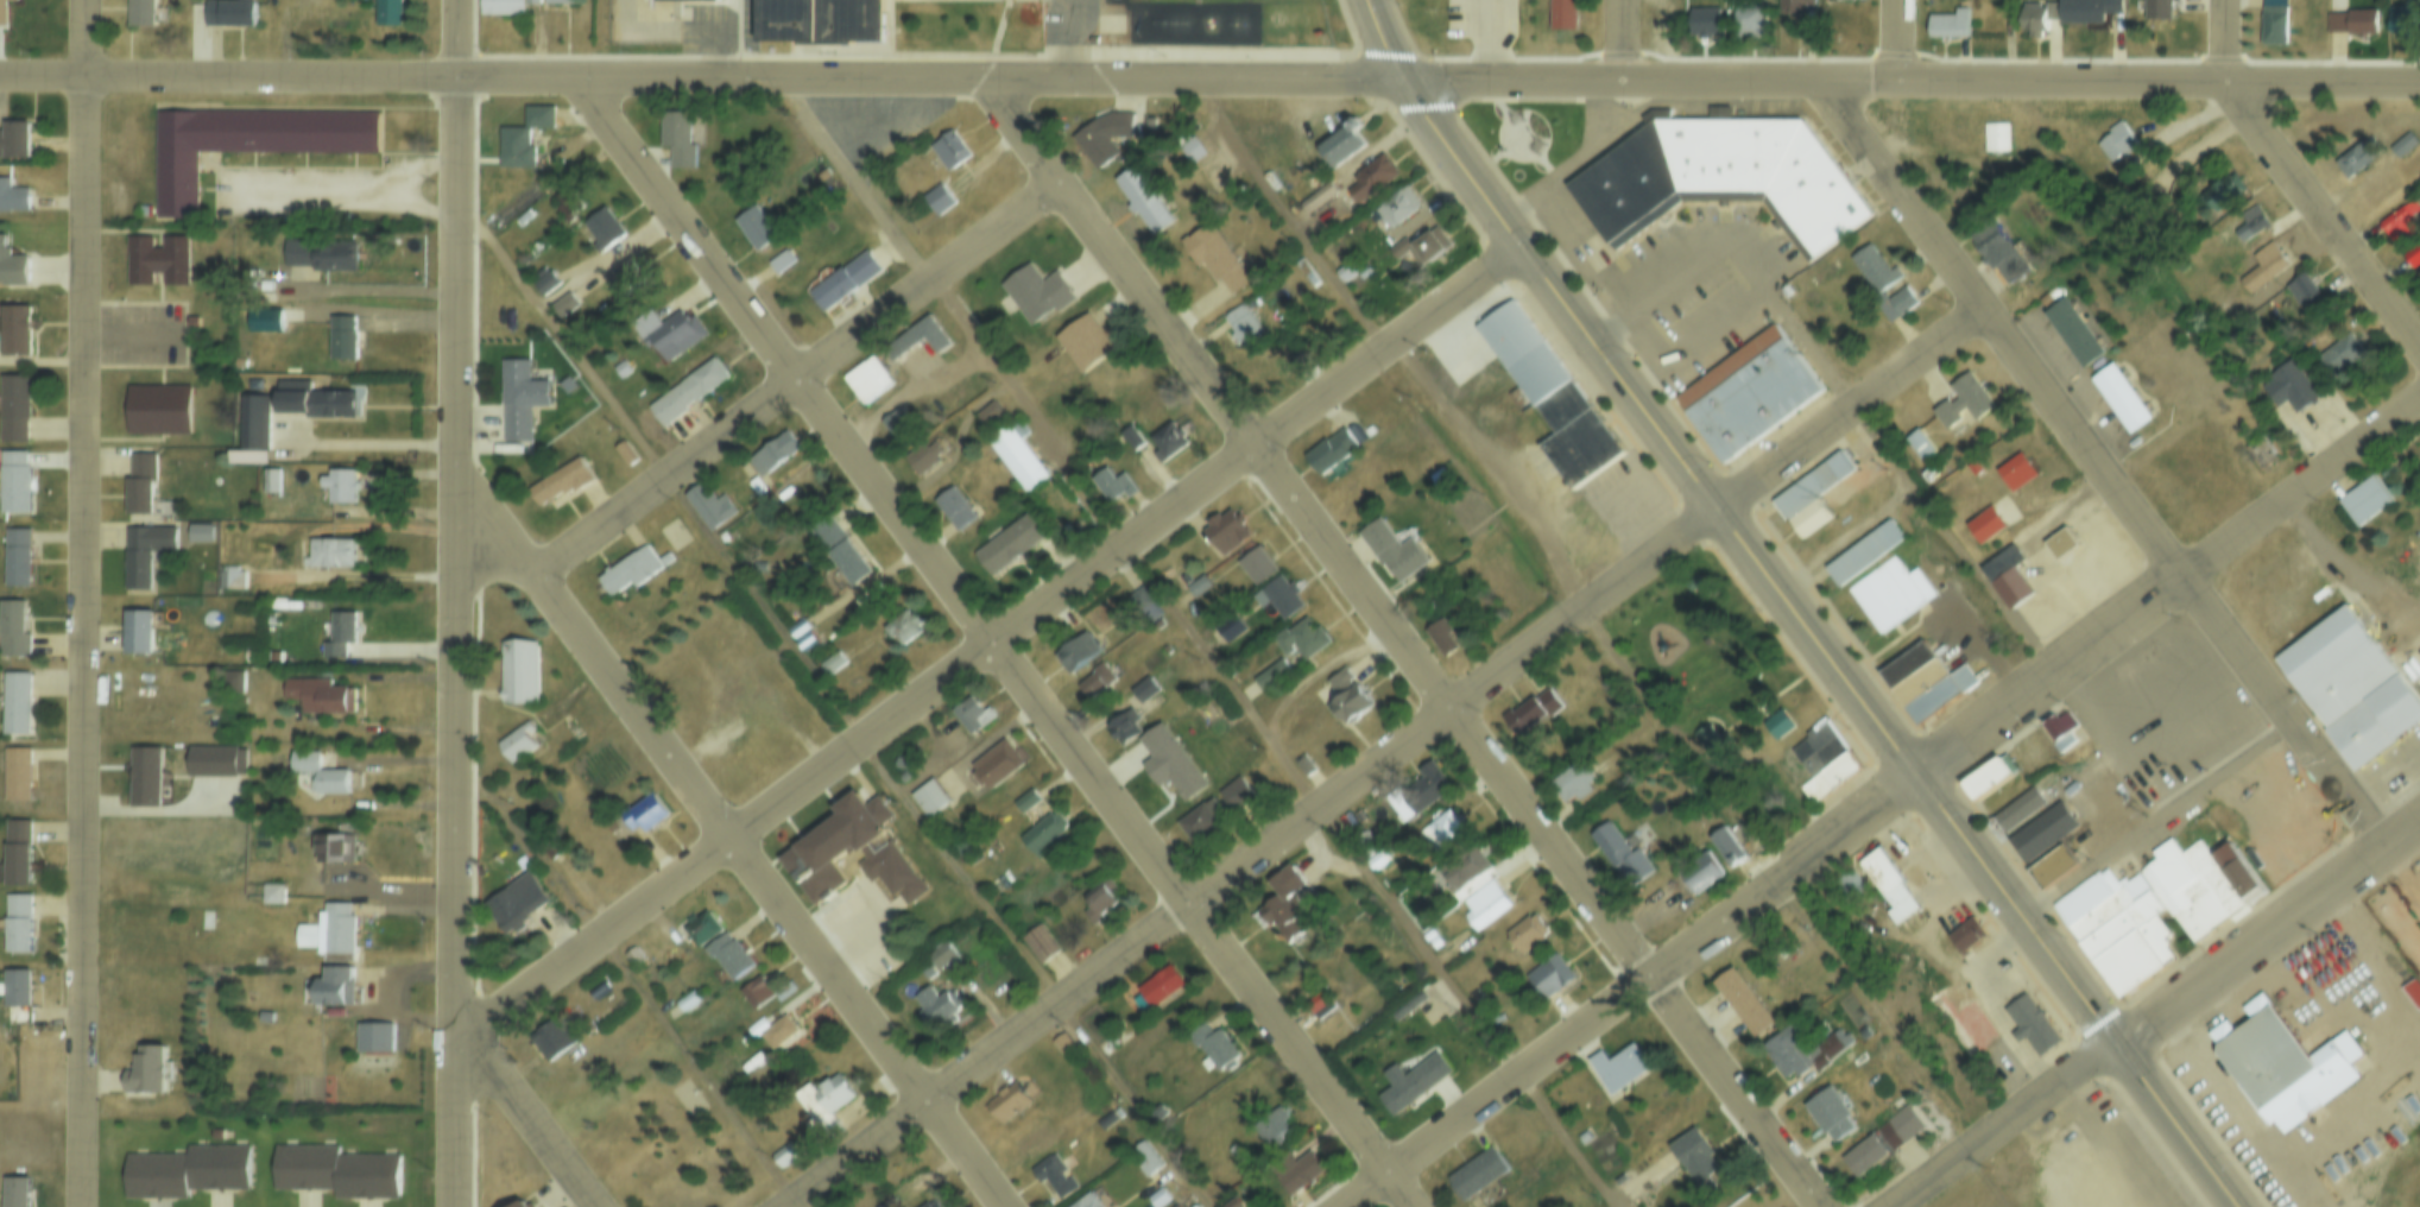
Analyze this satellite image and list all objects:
building: (684, 0)
building: (1838, 0)
building: (508, 6)
building: (1790, 6)
building: (2085, 12)
building: (2156, 12)
building: (1, 13)
building: (387, 13)
building: (140, 14)
building: (230, 14)
building: (1561, 15)
parking lot: (1067, 19)
building: (2036, 19)
building: (822, 21)
building: (1701, 23)
building: (1744, 23)
building: (1948, 24)
building: (2270, 25)
building: (2394, 26)
building: (2352, 29)
road: (84, 38)
road: (456, 38)
road: (1634, 42)
road: (1904, 42)
road: (1076, 43)
road: (2220, 43)
road: (1390, 45)
road: (712, 80)
road: (2327, 82)
road: (1830, 83)
building: (537, 113)
building: (674, 132)
building: (1104, 135)
building: (1994, 137)
building: (13, 140)
building: (245, 140)
building: (1340, 144)
building: (2112, 144)
building: (1187, 145)
building: (514, 147)
building: (948, 148)
building: (2396, 150)
building: (2350, 160)
building: (1719, 172)
building: (1370, 176)
parking lot: (312, 185)
building: (937, 196)
building: (1315, 196)
building: (11, 198)
building: (1143, 198)
building: (2216, 200)
building: (565, 202)
building: (1397, 204)
building: (140, 208)
road: (2329, 210)
building: (2250, 223)
building: (2399, 223)
building: (756, 225)
building: (602, 226)
building: (1397, 246)
building: (1426, 247)
building: (297, 248)
building: (1214, 254)
road: (1762, 254)
building: (1996, 257)
building: (777, 258)
building: (2412, 259)
building: (154, 260)
building: (333, 263)
building: (11, 267)
building: (2261, 268)
building: (1872, 272)
building: (626, 273)
building: (842, 277)
building: (543, 280)
building: (1035, 289)
building: (2301, 292)
building: (1900, 301)
building: (562, 302)
building: (2042, 303)
building: (264, 317)
building: (1245, 323)
parking lot: (138, 330)
building: (13, 331)
building: (672, 333)
building: (341, 335)
building: (918, 335)
building: (1085, 339)
building: (2073, 341)
building: (2332, 359)
building: (620, 365)
building: (1533, 369)
road: (796, 374)
building: (866, 378)
building: (2286, 386)
building: (685, 390)
building: (1746, 396)
building: (519, 397)
building: (310, 398)
building: (1963, 406)
building: (2121, 406)
building: (157, 407)
building: (13, 409)
building: (988, 409)
road: (1851, 409)
building: (252, 421)
building: (896, 421)
building: (1367, 426)
road: (1466, 434)
building: (1131, 435)
building: (1168, 440)
building: (1922, 443)
building: (1332, 448)
building: (1015, 449)
building: (2262, 449)
building: (625, 450)
building: (1581, 451)
building: (1919, 451)
building: (772, 453)
building: (921, 455)
road: (2102, 470)
building: (1439, 473)
building: (270, 479)
building: (560, 480)
building: (138, 481)
building: (2016, 481)
building: (13, 482)
building: (1110, 482)
building: (754, 484)
building: (337, 485)
building: (798, 495)
building: (1809, 497)
building: (2363, 501)
building: (953, 504)
building: (708, 505)
building: (271, 512)
building: (198, 531)
building: (1224, 532)
building: (1985, 532)
building: (1007, 542)
building: (2066, 542)
building: (839, 549)
building: (1391, 550)
building: (143, 552)
building: (329, 552)
building: (2061, 552)
building: (1860, 554)
building: (15, 557)
building: (1256, 565)
building: (628, 571)
building: (229, 576)
building: (2008, 581)
building: (1196, 586)
road: (2168, 589)
building: (1887, 592)
building: (1142, 599)
building: (1282, 599)
building: (897, 621)
building: (800, 624)
building: (12, 631)
building: (337, 633)
building: (137, 634)
building: (1439, 636)
building: (1300, 637)
building: (803, 639)
road: (82, 642)
road: (457, 642)
road: (998, 643)
road: (999, 646)
park: (1688, 646)
road: (1199, 647)
road: (1408, 649)
building: (1076, 651)
road: (1824, 653)
building: (274, 655)
building: (829, 661)
building: (1906, 665)
building: (2332, 665)
building: (517, 670)
building: (1270, 674)
building: (1093, 678)
building: (232, 681)
building: (1917, 683)
building: (1142, 689)
building: (1938, 694)
building: (318, 695)
building: (1347, 700)
road: (840, 702)
building: (13, 704)
building: (969, 713)
building: (1529, 713)
parking lot: (2169, 718)
building: (2372, 722)
building: (2060, 723)
building: (1775, 725)
building: (571, 727)
building: (1123, 727)
building: (516, 740)
building: (1705, 742)
building: (1816, 748)
building: (210, 759)
building: (994, 763)
building: (1301, 763)
building: (14, 772)
building: (317, 772)
building: (2384, 772)
building: (144, 776)
building: (1828, 776)
building: (1989, 777)
building: (1569, 785)
building: (1427, 786)
building: (1234, 795)
building: (928, 796)
building: (1023, 798)
building: (2029, 803)
parking lot: (2105, 808)
parking lot: (2279, 809)
building: (642, 815)
building: (1198, 821)
building: (2042, 829)
building: (1439, 832)
building: (1041, 833)
road: (737, 839)
building: (846, 846)
building: (333, 847)
building: (15, 853)
building: (1723, 853)
road: (1258, 858)
building: (1618, 858)
building: (2051, 864)
building: (2237, 872)
building: (1465, 878)
building: (1698, 880)
building: (1851, 884)
building: (1887, 884)
building: (2191, 886)
building: (273, 890)
building: (514, 902)
building: (1483, 904)
building: (1099, 905)
building: (1285, 905)
building: (203, 917)
building: (14, 924)
building: (700, 925)
building: (2116, 927)
building: (328, 930)
building: (1963, 933)
building: (1524, 934)
road: (2270, 937)
building: (1038, 943)
building: (936, 950)
building: (633, 954)
building: (727, 954)
building: (258, 955)
building: (1544, 975)
building: (1158, 986)
road: (1630, 986)
building: (333, 987)
building: (764, 988)
building: (13, 991)
building: (2412, 991)
building: (685, 998)
building: (1314, 1000)
building: (1940, 1004)
building: (940, 1006)
building: (1742, 1006)
building: (265, 1011)
building: (2030, 1023)
building: (771, 1028)
building: (374, 1034)
building: (741, 1037)
building: (550, 1041)
building: (1973, 1042)
building: (1063, 1045)
building: (1209, 1047)
building: (1831, 1048)
building: (1782, 1059)
building: (2282, 1061)
building: (1617, 1068)
building: (144, 1075)
building: (1411, 1082)
building: (1005, 1102)
building: (822, 1104)
road: (527, 1113)
building: (1105, 1120)
building: (1825, 1120)
building: (1901, 1126)
road: (2007, 1126)
building: (1271, 1127)
building: (1581, 1132)
building: (1031, 1144)
building: (1231, 1150)
building: (783, 1154)
building: (1692, 1157)
building: (1142, 1159)
building: (1860, 1163)
building: (336, 1167)
building: (185, 1168)
building: (1476, 1173)
building: (1291, 1174)
building: (1617, 1175)
building: (1051, 1176)
building: (13, 1193)
building: (1155, 1197)
building: (1083, 1201)
building: (1234, 1202)
building: (934, 1203)
building: (519, 1206)
building: (924, 1206)

